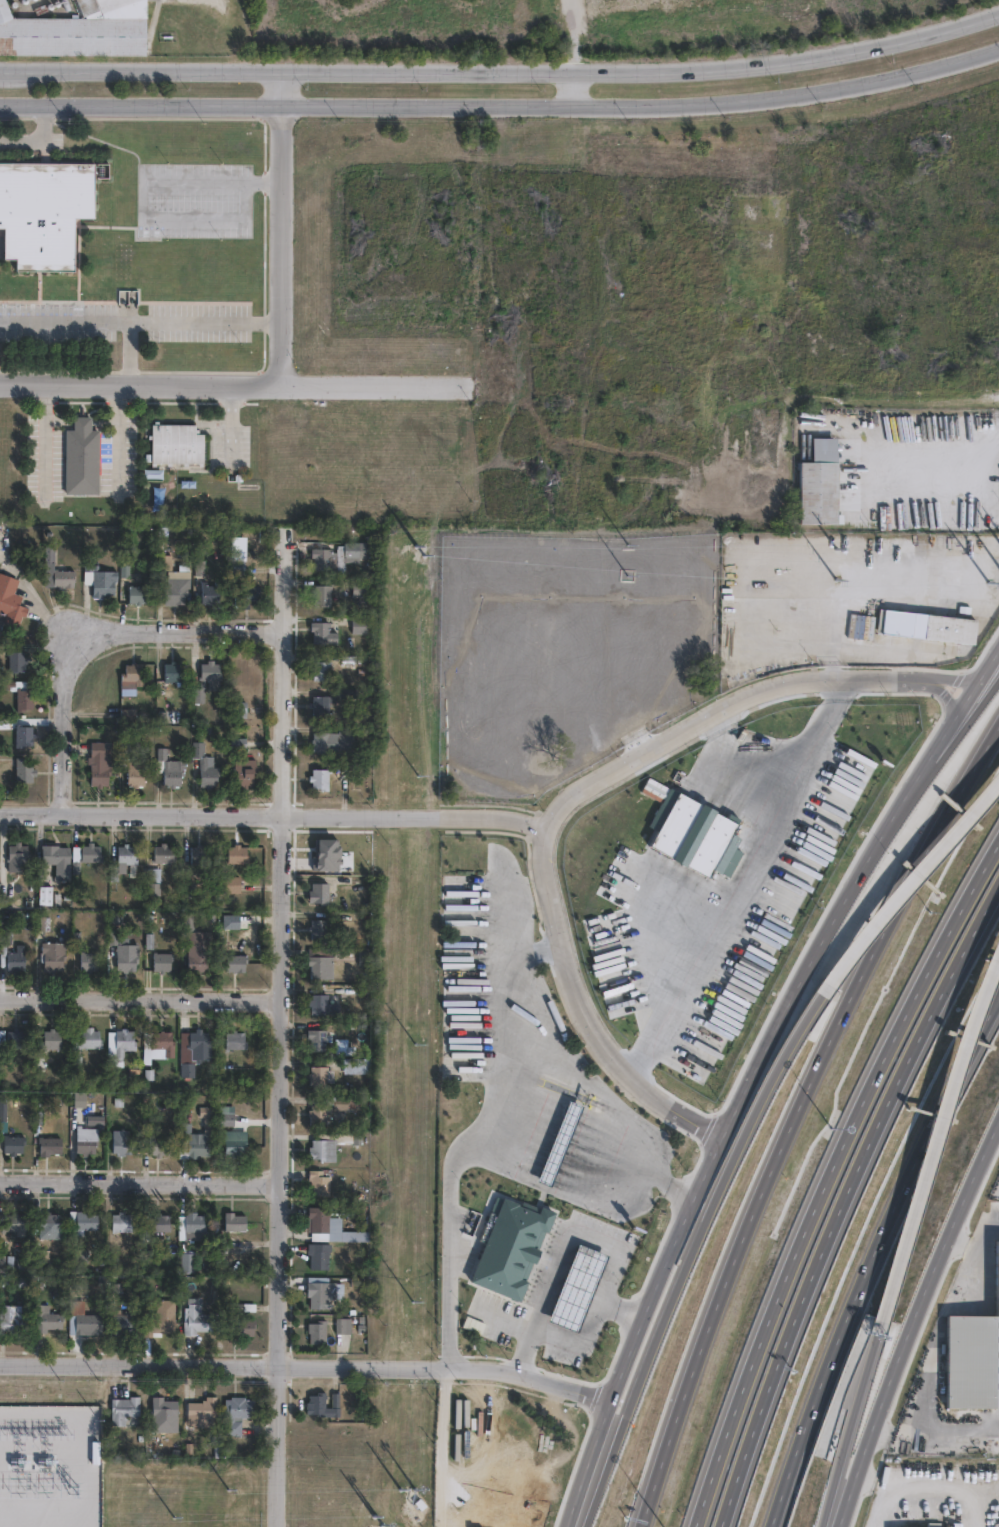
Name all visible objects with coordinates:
building: (77, 29)
road: (502, 73)
road: (579, 88)
road: (642, 100)
road: (140, 102)
road: (40, 139)
building: (43, 211)
road: (280, 228)
building: (123, 260)
road: (139, 323)
road: (129, 354)
road: (140, 385)
road: (372, 386)
building: (179, 440)
road: (941, 452)
building: (83, 453)
building: (818, 483)
building: (161, 495)
building: (353, 547)
power tower: (419, 550)
building: (325, 556)
building: (165, 557)
building: (239, 565)
building: (65, 573)
building: (100, 574)
power tower: (646, 577)
power tower: (850, 578)
building: (178, 584)
building: (361, 585)
building: (211, 589)
building: (139, 590)
building: (247, 590)
building: (323, 592)
building: (12, 598)
building: (922, 621)
building: (361, 623)
building: (854, 624)
building: (324, 630)
road: (98, 641)
road: (997, 645)
building: (18, 654)
building: (174, 668)
building: (323, 668)
building: (133, 671)
building: (209, 675)
road: (952, 678)
building: (22, 688)
road: (942, 693)
building: (321, 703)
building: (240, 705)
building: (25, 732)
building: (242, 739)
building: (334, 740)
building: (98, 762)
building: (131, 762)
building: (204, 763)
building: (169, 765)
building: (23, 768)
building: (245, 769)
building: (321, 776)
power tower: (415, 785)
building: (851, 786)
building: (915, 795)
road: (487, 816)
road: (938, 848)
building: (18, 851)
building: (91, 852)
building: (164, 852)
building: (200, 853)
building: (238, 853)
building: (57, 859)
building: (123, 859)
road: (745, 878)
building: (153, 880)
road: (911, 881)
building: (231, 883)
road: (848, 883)
building: (45, 887)
building: (323, 893)
building: (189, 920)
building: (43, 922)
building: (320, 928)
building: (13, 951)
building: (124, 951)
road: (537, 951)
building: (54, 953)
building: (199, 956)
building: (89, 959)
building: (163, 961)
building: (325, 961)
building: (236, 962)
road: (140, 1001)
building: (323, 1005)
road: (584, 1009)
power tower: (414, 1030)
building: (17, 1038)
building: (317, 1038)
building: (52, 1039)
building: (236, 1039)
road: (279, 1039)
building: (125, 1040)
building: (164, 1041)
building: (84, 1042)
building: (195, 1050)
building: (357, 1069)
building: (320, 1075)
building: (79, 1098)
building: (350, 1104)
building: (226, 1114)
road: (619, 1114)
building: (319, 1115)
building: (3, 1119)
road: (506, 1124)
building: (208, 1125)
building: (86, 1140)
building: (121, 1142)
building: (194, 1143)
building: (558, 1143)
gas station: (558, 1143)
building: (12, 1144)
road: (937, 1145)
building: (48, 1146)
building: (158, 1146)
building: (234, 1147)
building: (326, 1150)
road: (826, 1178)
road: (139, 1182)
building: (322, 1182)
road: (763, 1200)
road: (844, 1204)
building: (81, 1222)
building: (122, 1222)
building: (195, 1222)
building: (235, 1222)
building: (13, 1223)
building: (155, 1223)
building: (50, 1224)
building: (325, 1225)
road: (568, 1236)
building: (511, 1248)
road: (977, 1248)
road: (689, 1249)
building: (321, 1255)
building: (7, 1261)
building: (188, 1262)
road: (874, 1262)
power tower: (412, 1273)
building: (577, 1288)
gas station: (577, 1288)
building: (325, 1294)
road: (911, 1317)
building: (161, 1318)
building: (47, 1319)
building: (243, 1319)
building: (13, 1320)
building: (197, 1320)
building: (85, 1322)
building: (122, 1323)
building: (346, 1326)
road: (633, 1327)
building: (319, 1332)
road: (579, 1343)
building: (973, 1360)
road: (304, 1365)
building: (323, 1405)
building: (204, 1409)
building: (124, 1410)
building: (237, 1414)
building: (164, 1415)
road: (850, 1429)
building: (993, 1442)
road: (443, 1447)
building: (543, 1475)
road: (936, 1484)
power tower: (406, 1486)
power tower: (75, 1487)
power tower: (226, 1488)
road: (650, 1491)
road: (882, 1504)
power tower: (172, 1516)
power tower: (377, 1519)
building: (934, 1523)

